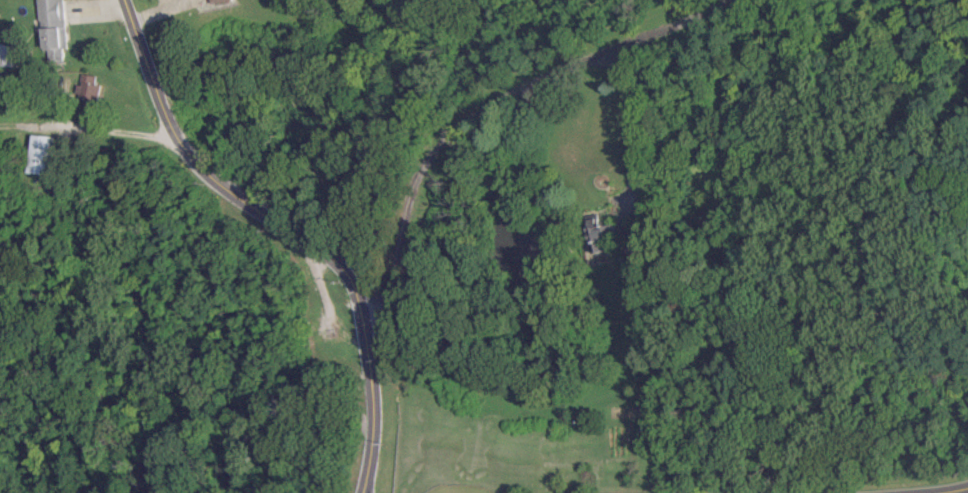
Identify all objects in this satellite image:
building: (220, 0)
building: (54, 29)
building: (9, 54)
building: (90, 87)
road: (473, 117)
road: (87, 129)
road: (633, 131)
building: (44, 153)
road: (292, 228)
building: (594, 234)
road: (946, 490)

